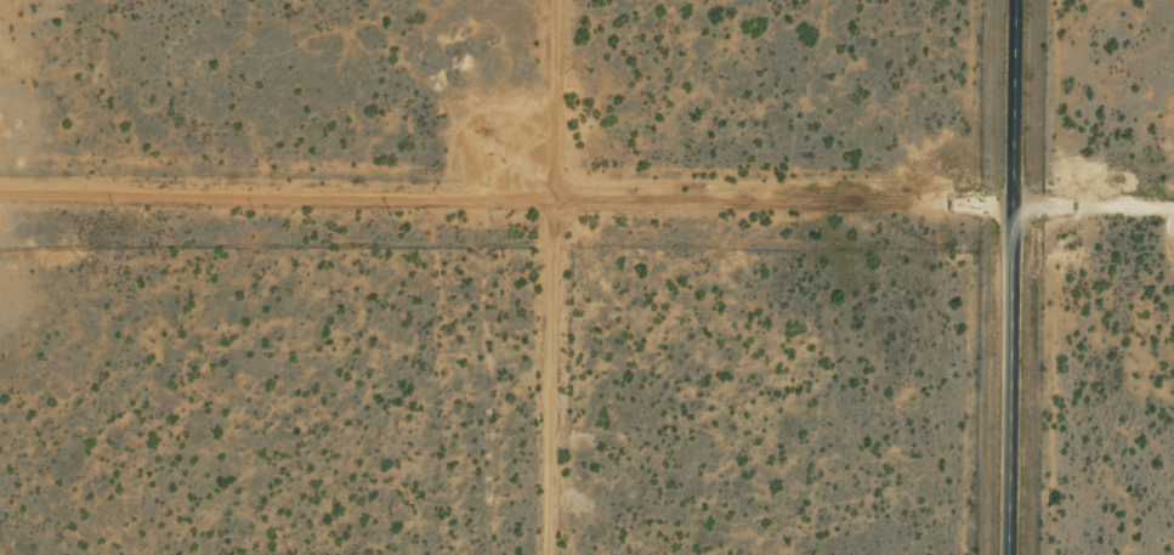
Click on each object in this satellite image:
road: (489, 124)
road: (586, 239)
road: (1009, 277)

